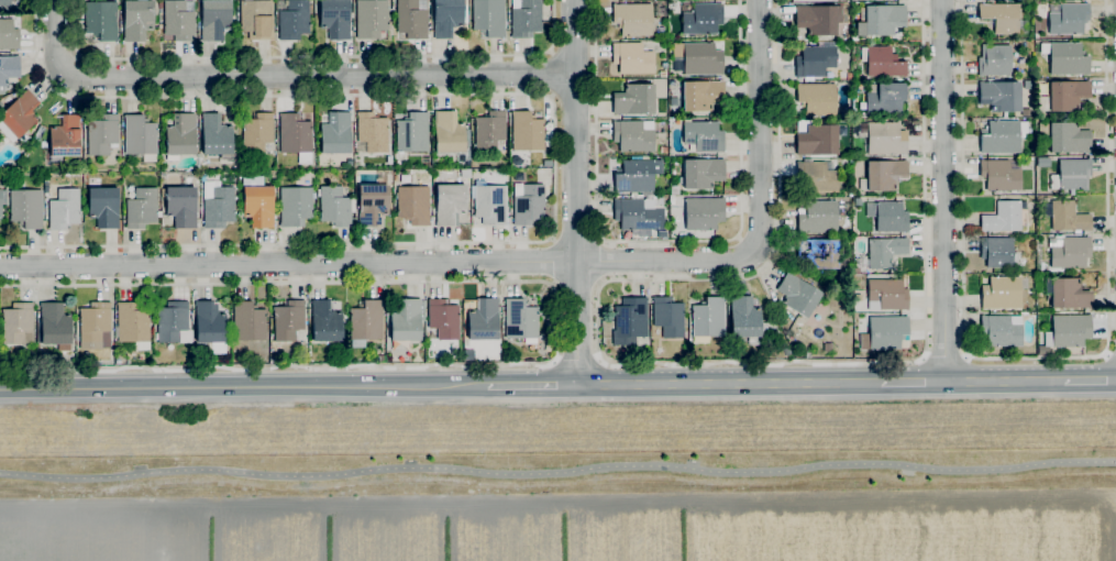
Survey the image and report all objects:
building: (5, 4)
building: (446, 16)
building: (488, 16)
building: (214, 18)
building: (256, 18)
building: (335, 18)
building: (371, 18)
building: (411, 18)
building: (526, 18)
building: (700, 18)
building: (1003, 18)
building: (1067, 18)
building: (137, 19)
building: (179, 19)
building: (633, 19)
building: (818, 19)
building: (102, 20)
building: (294, 20)
building: (881, 20)
building: (660, 31)
building: (9, 34)
building: (853, 37)
road: (552, 52)
road: (76, 56)
road: (312, 56)
building: (1065, 57)
building: (632, 58)
building: (701, 58)
building: (994, 59)
building: (815, 61)
building: (882, 62)
road: (69, 64)
building: (8, 69)
road: (554, 74)
road: (283, 75)
building: (700, 95)
building: (1001, 95)
road: (552, 96)
building: (1063, 96)
building: (817, 98)
building: (884, 98)
building: (633, 99)
building: (18, 116)
building: (661, 124)
building: (489, 130)
building: (373, 131)
building: (527, 131)
building: (257, 132)
building: (412, 132)
building: (449, 132)
building: (335, 133)
building: (102, 134)
building: (216, 135)
building: (633, 135)
building: (660, 135)
building: (704, 135)
building: (65, 136)
building: (140, 136)
building: (180, 136)
building: (296, 136)
building: (999, 137)
building: (1068, 137)
building: (885, 139)
building: (817, 140)
road: (554, 146)
building: (663, 150)
building: (80, 162)
building: (701, 173)
building: (1072, 174)
building: (637, 175)
building: (883, 175)
building: (999, 175)
building: (818, 177)
road: (944, 190)
road: (575, 193)
building: (257, 200)
building: (452, 200)
building: (489, 202)
building: (528, 202)
building: (0, 204)
building: (372, 204)
building: (181, 205)
building: (295, 205)
building: (413, 205)
building: (104, 206)
building: (334, 206)
building: (219, 207)
building: (26, 208)
building: (142, 208)
building: (64, 209)
building: (704, 212)
building: (638, 215)
road: (761, 216)
building: (888, 216)
building: (1067, 216)
building: (817, 217)
building: (1003, 217)
road: (576, 238)
road: (669, 240)
building: (884, 252)
building: (998, 252)
building: (1070, 252)
building: (819, 253)
road: (552, 260)
road: (600, 261)
road: (288, 263)
road: (577, 284)
building: (1002, 293)
building: (1069, 294)
building: (798, 295)
building: (886, 295)
building: (667, 316)
building: (708, 317)
building: (742, 317)
building: (443, 318)
building: (520, 319)
building: (172, 320)
building: (288, 320)
building: (408, 320)
building: (484, 320)
building: (630, 320)
building: (248, 321)
building: (325, 321)
building: (132, 322)
building: (209, 322)
building: (365, 322)
building: (18, 323)
road: (556, 323)
building: (54, 324)
building: (95, 326)
building: (1002, 330)
building: (1068, 330)
building: (884, 332)
building: (531, 344)
building: (198, 351)
building: (229, 353)
road: (1111, 354)
road: (944, 358)
road: (1035, 358)
road: (577, 361)
road: (682, 364)
road: (1005, 381)
road: (1090, 381)
road: (914, 382)
road: (729, 384)
road: (533, 385)
road: (244, 387)
road: (557, 470)
park: (565, 485)

